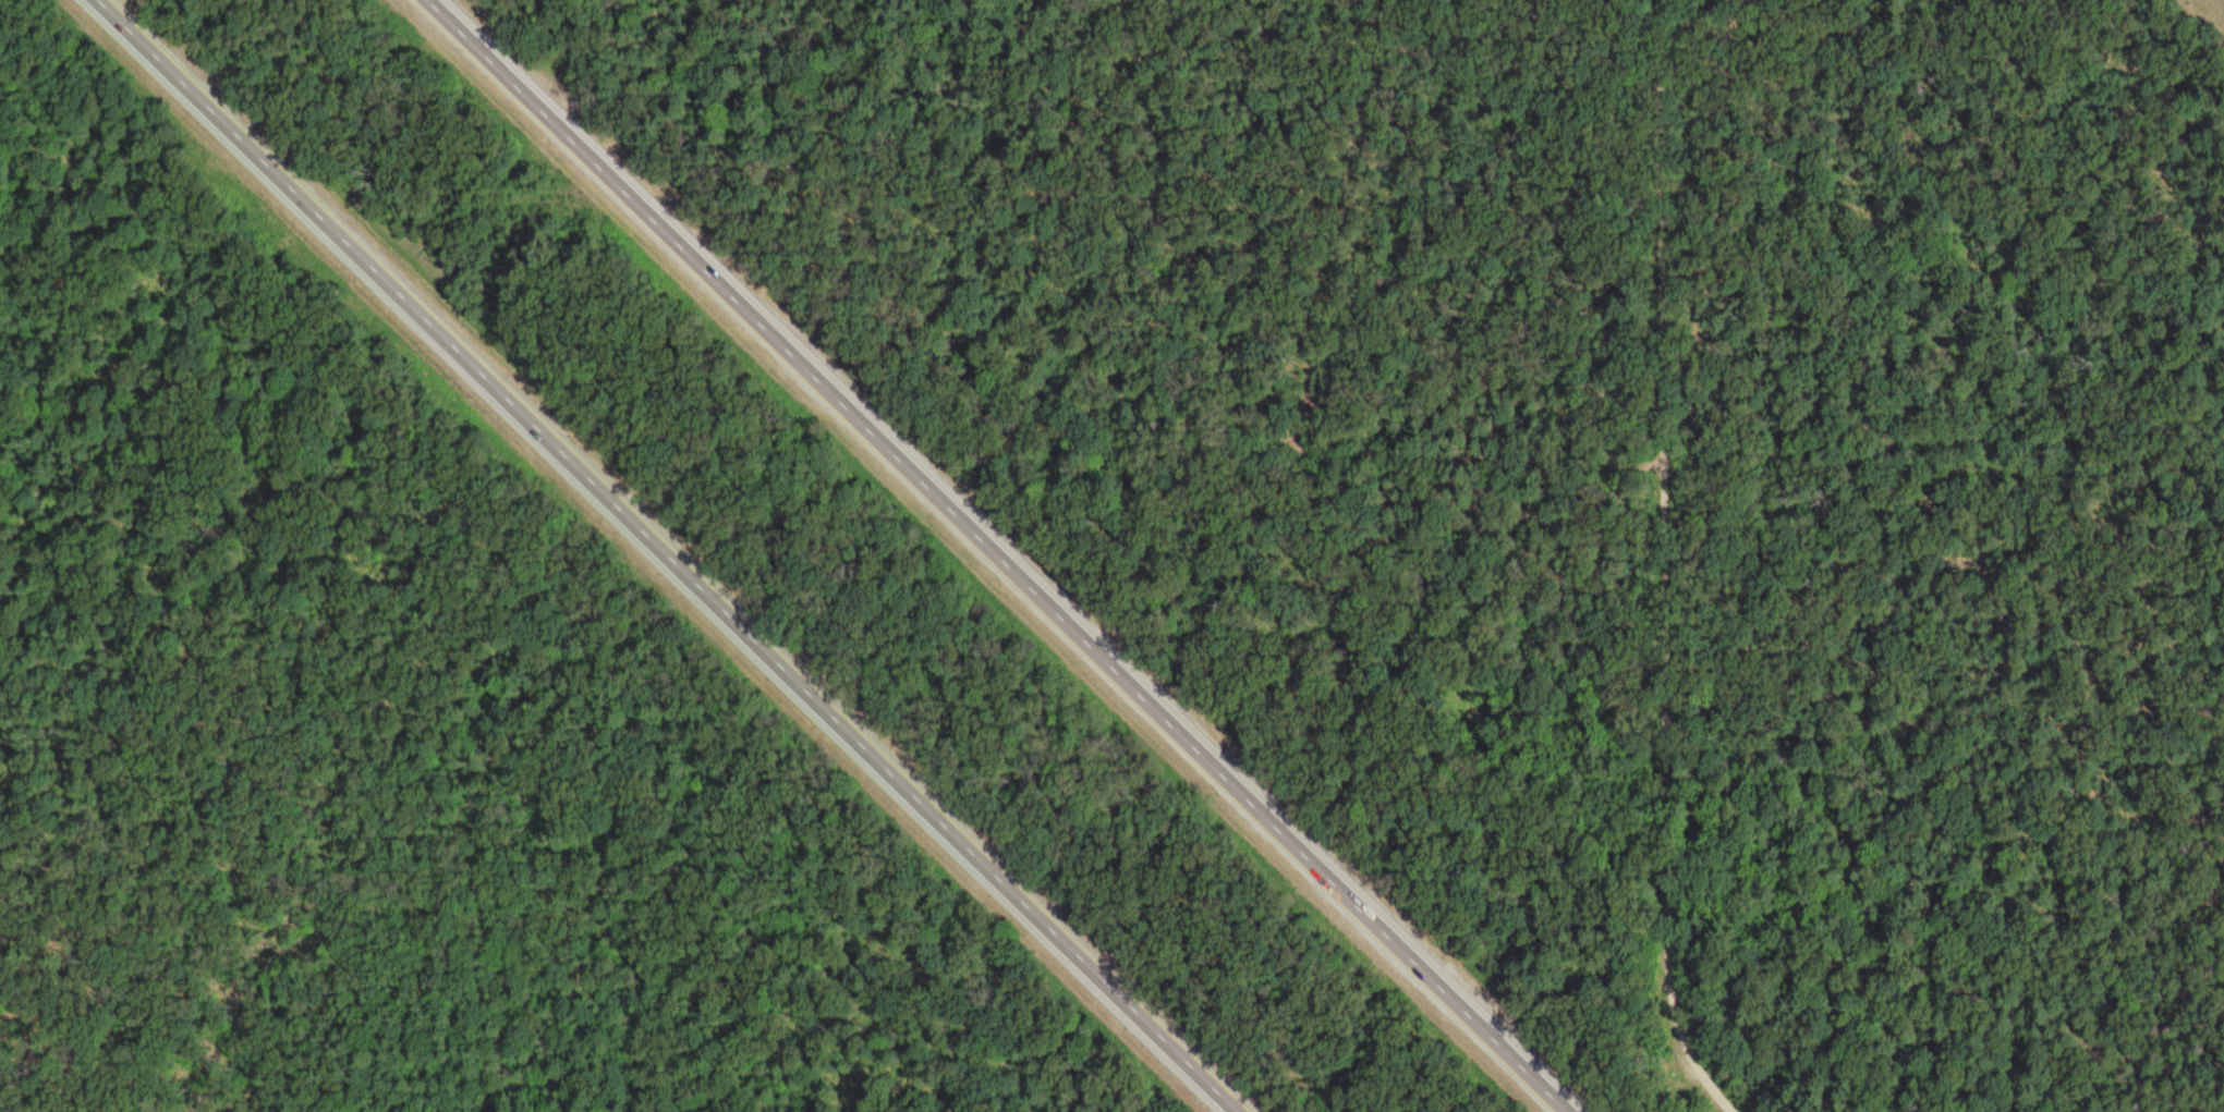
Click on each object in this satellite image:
road: (171, 419)
road: (1010, 554)
road: (679, 559)
road: (1675, 564)
road: (673, 1007)
road: (1247, 1107)

